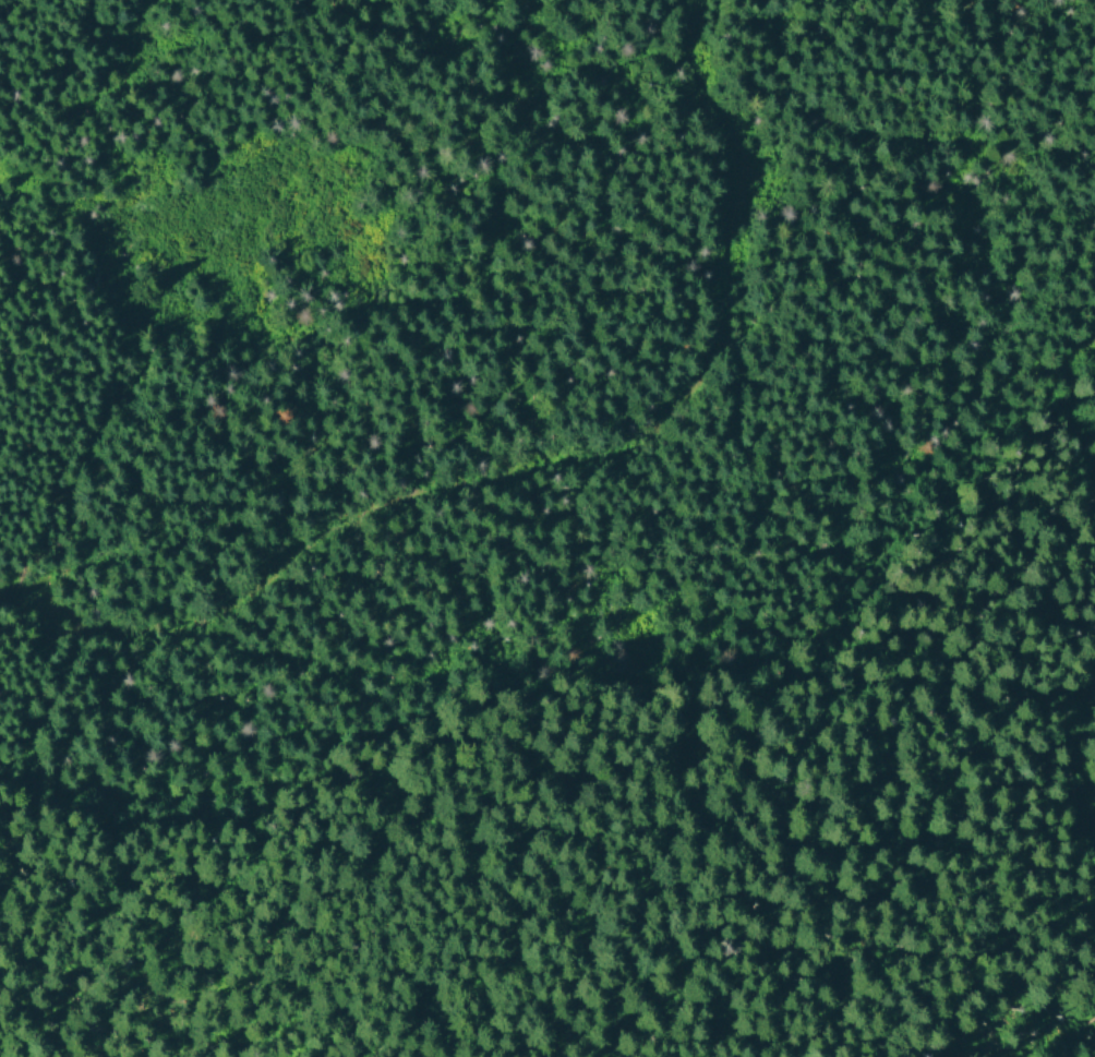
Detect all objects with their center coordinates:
road: (542, 466)

